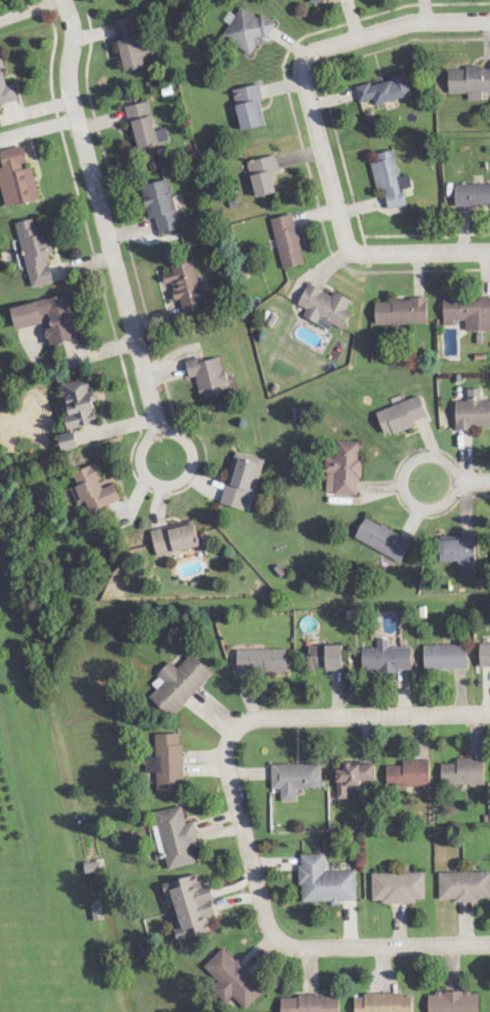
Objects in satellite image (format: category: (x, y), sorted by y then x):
building: (315, 0)
building: (249, 30)
building: (134, 43)
building: (470, 82)
building: (6, 88)
building: (385, 90)
building: (250, 106)
building: (145, 126)
road: (317, 129)
building: (264, 175)
building: (17, 177)
building: (391, 179)
building: (473, 195)
building: (161, 205)
road: (102, 211)
building: (288, 241)
building: (35, 252)
building: (187, 288)
building: (326, 307)
building: (402, 311)
building: (468, 312)
building: (49, 318)
building: (209, 376)
building: (81, 403)
building: (473, 410)
building: (403, 415)
building: (69, 442)
road: (413, 459)
building: (345, 469)
road: (186, 475)
road: (482, 479)
building: (243, 481)
building: (95, 489)
building: (176, 539)
building: (384, 540)
building: (460, 553)
building: (485, 655)
building: (327, 657)
building: (446, 657)
building: (387, 658)
building: (263, 661)
building: (180, 684)
road: (335, 715)
building: (168, 764)
building: (464, 772)
building: (409, 774)
building: (354, 777)
building: (295, 779)
building: (178, 837)
building: (326, 882)
building: (464, 886)
building: (398, 888)
building: (192, 907)
road: (296, 948)
building: (235, 980)
building: (454, 1002)
building: (383, 1003)
building: (311, 1004)

